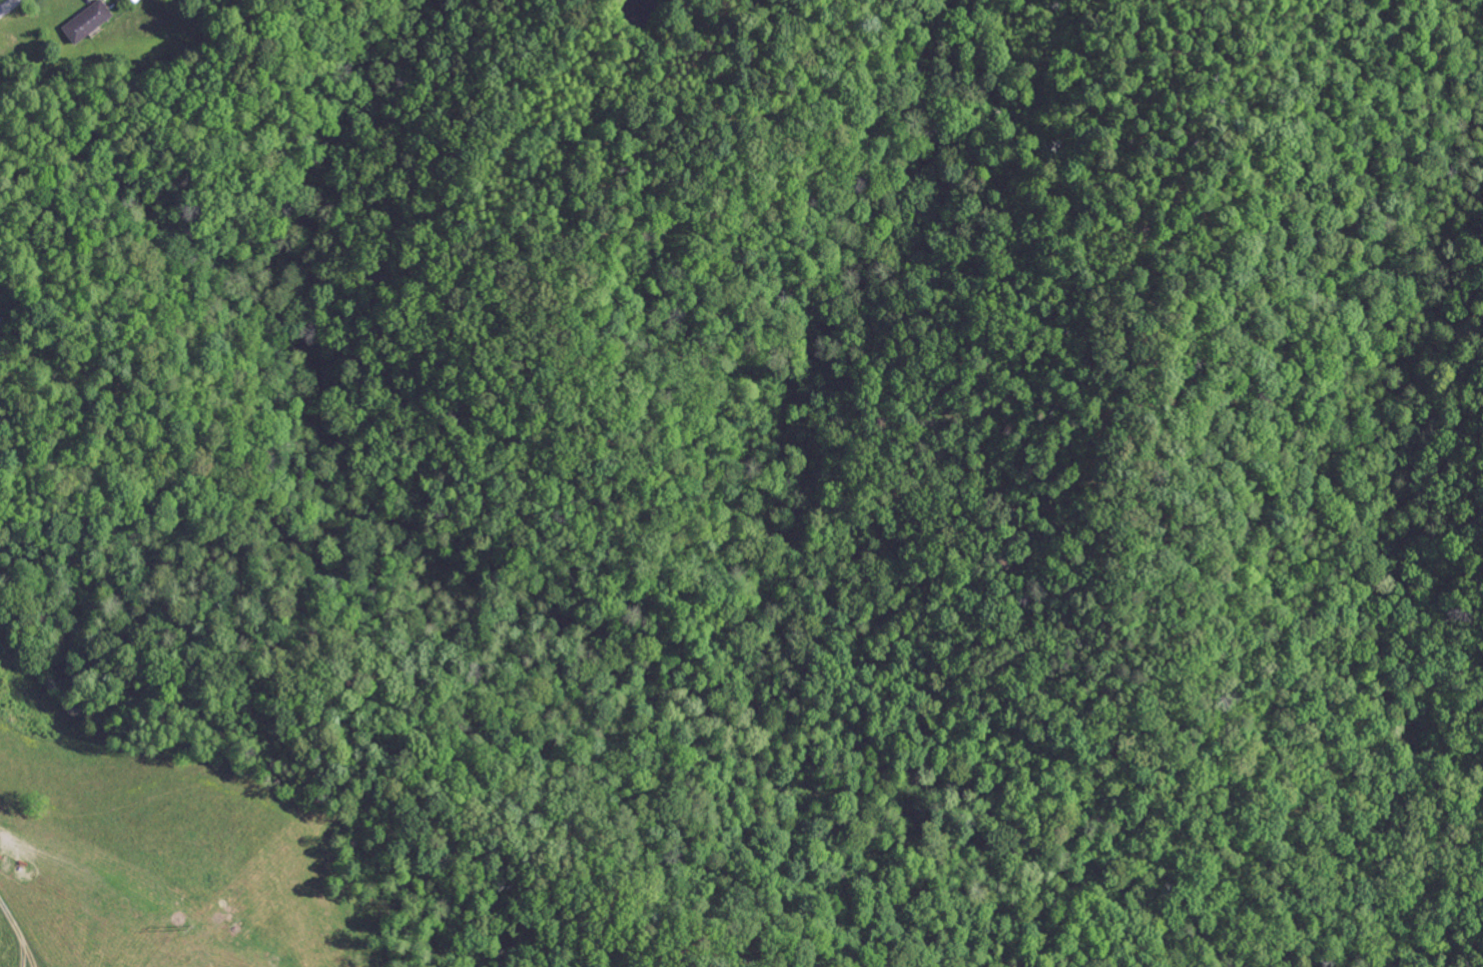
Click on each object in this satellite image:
road: (8, 6)
building: (85, 22)

